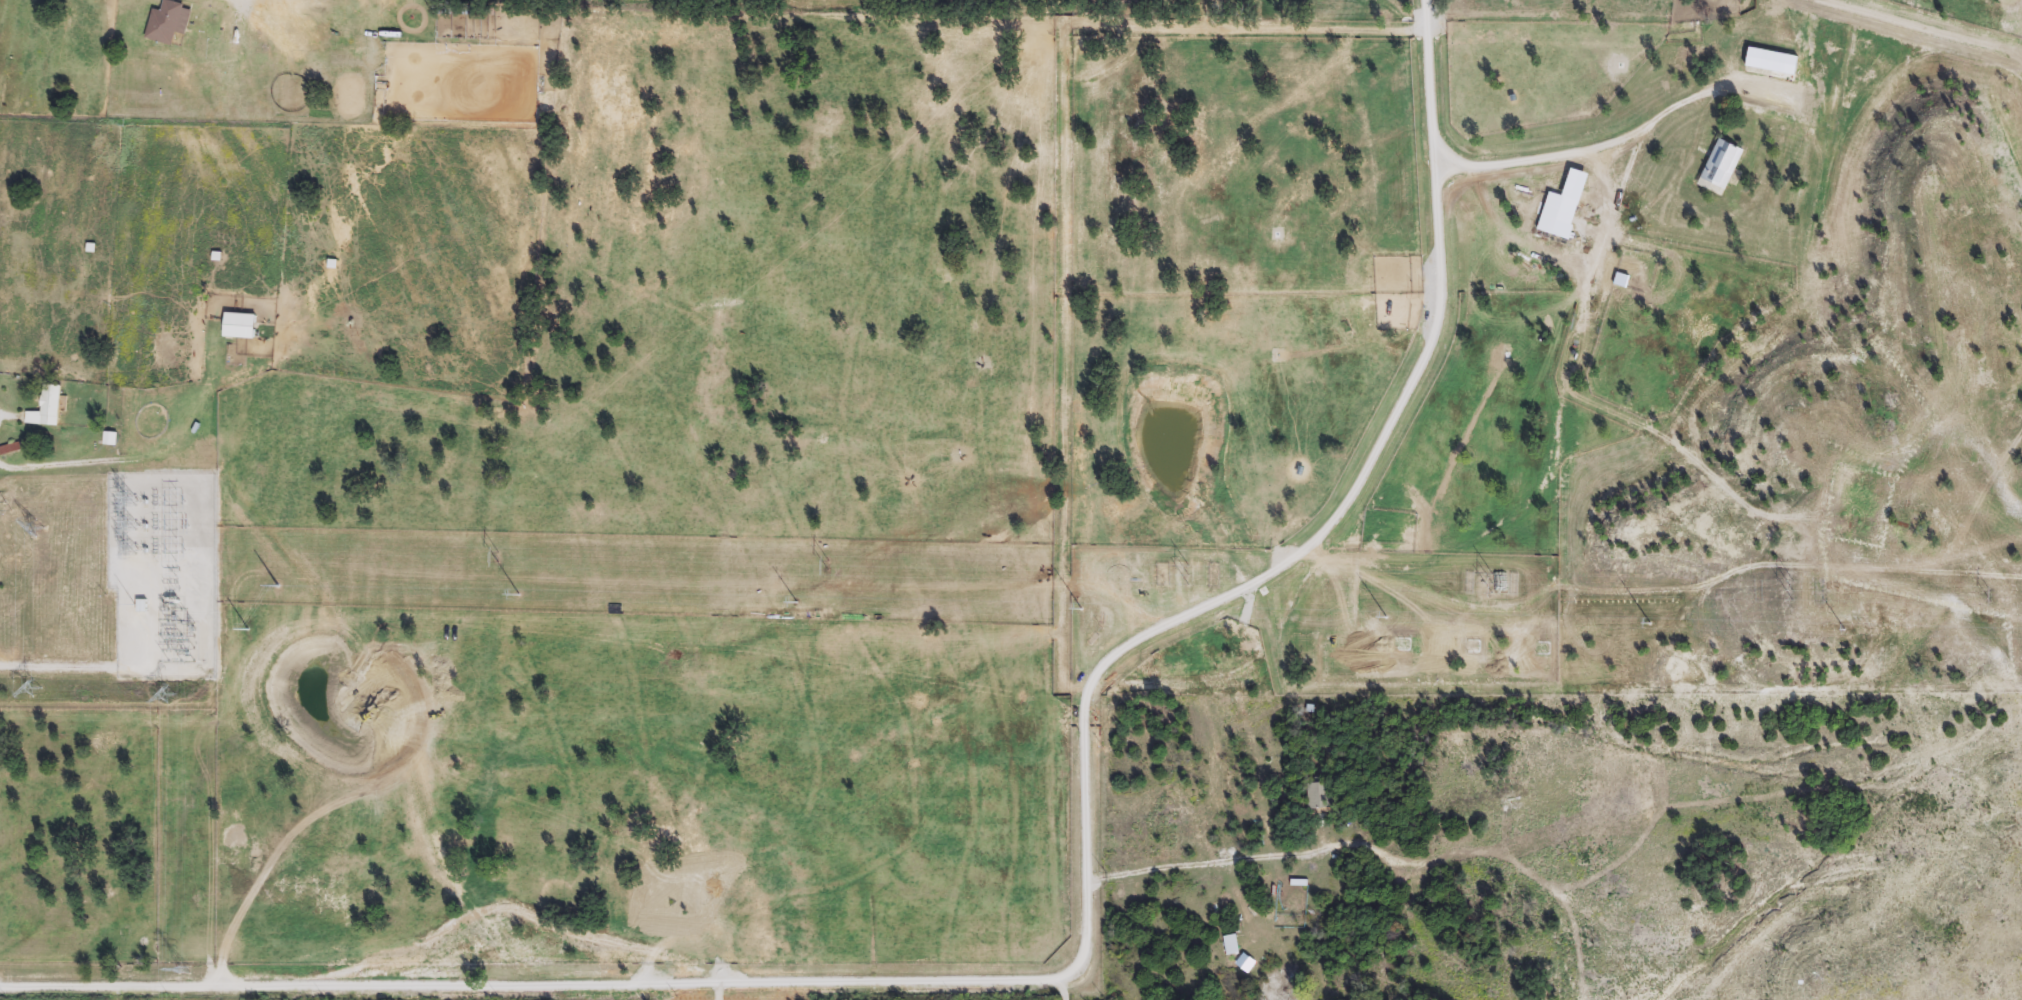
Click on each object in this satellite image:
building: (170, 22)
building: (1768, 61)
building: (1772, 109)
building: (1722, 168)
building: (1572, 205)
building: (243, 327)
building: (49, 407)
building: (112, 442)
building: (11, 450)
power tower: (7, 502)
power tower: (38, 531)
power substation: (161, 572)
building: (143, 607)
power tower: (39, 707)
power tower: (175, 707)
building: (1319, 798)
road: (1082, 828)
road: (1200, 864)
power tower: (184, 976)
road: (1069, 991)

